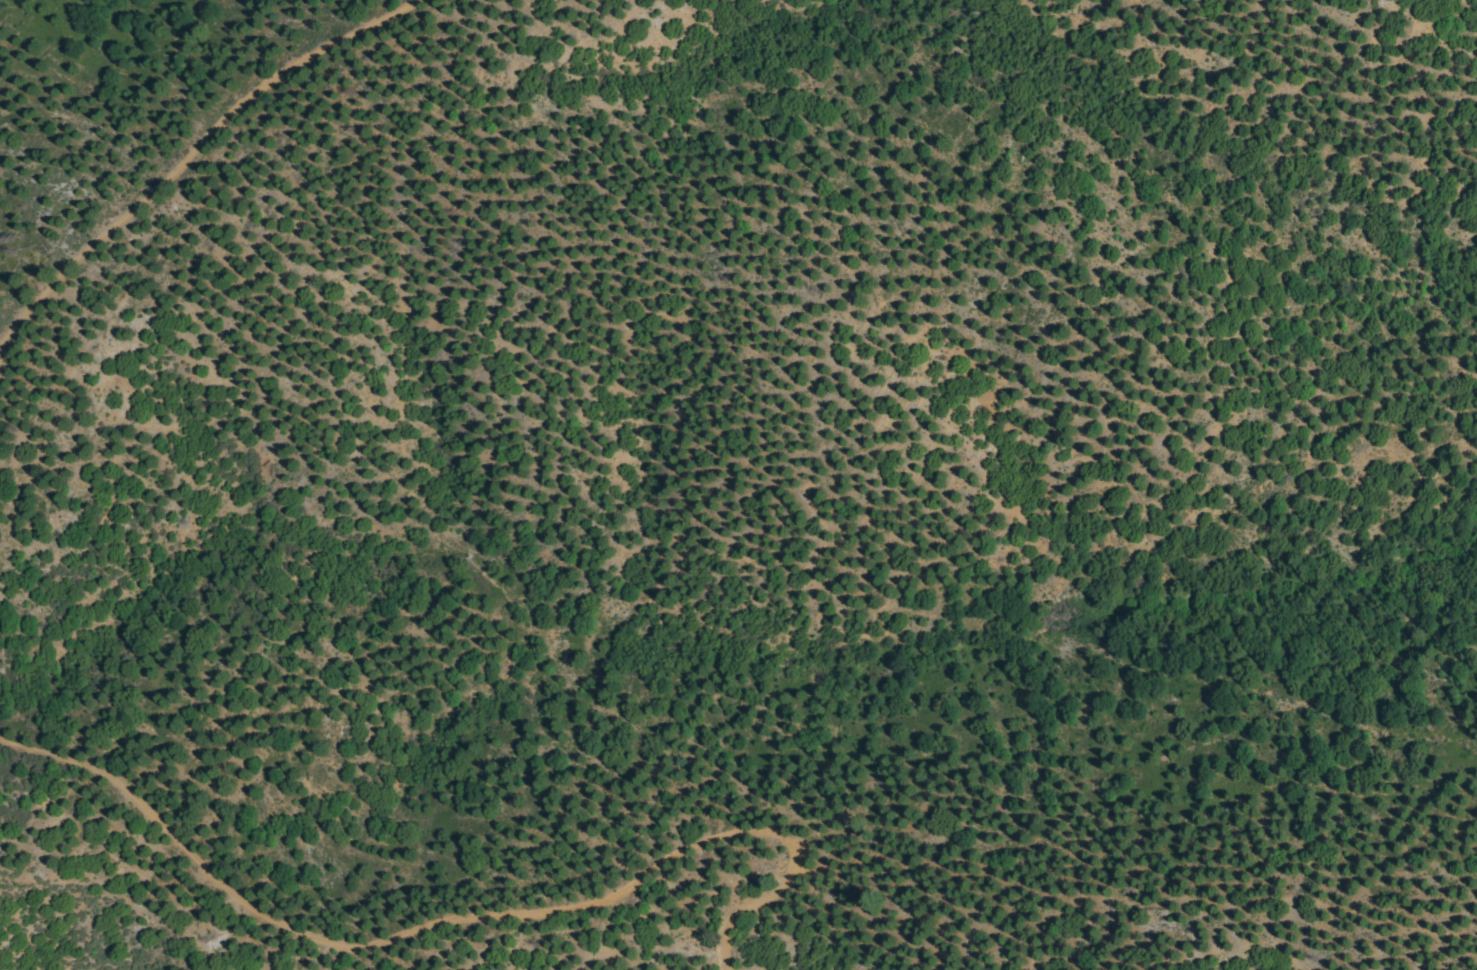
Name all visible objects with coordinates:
road: (198, 150)

